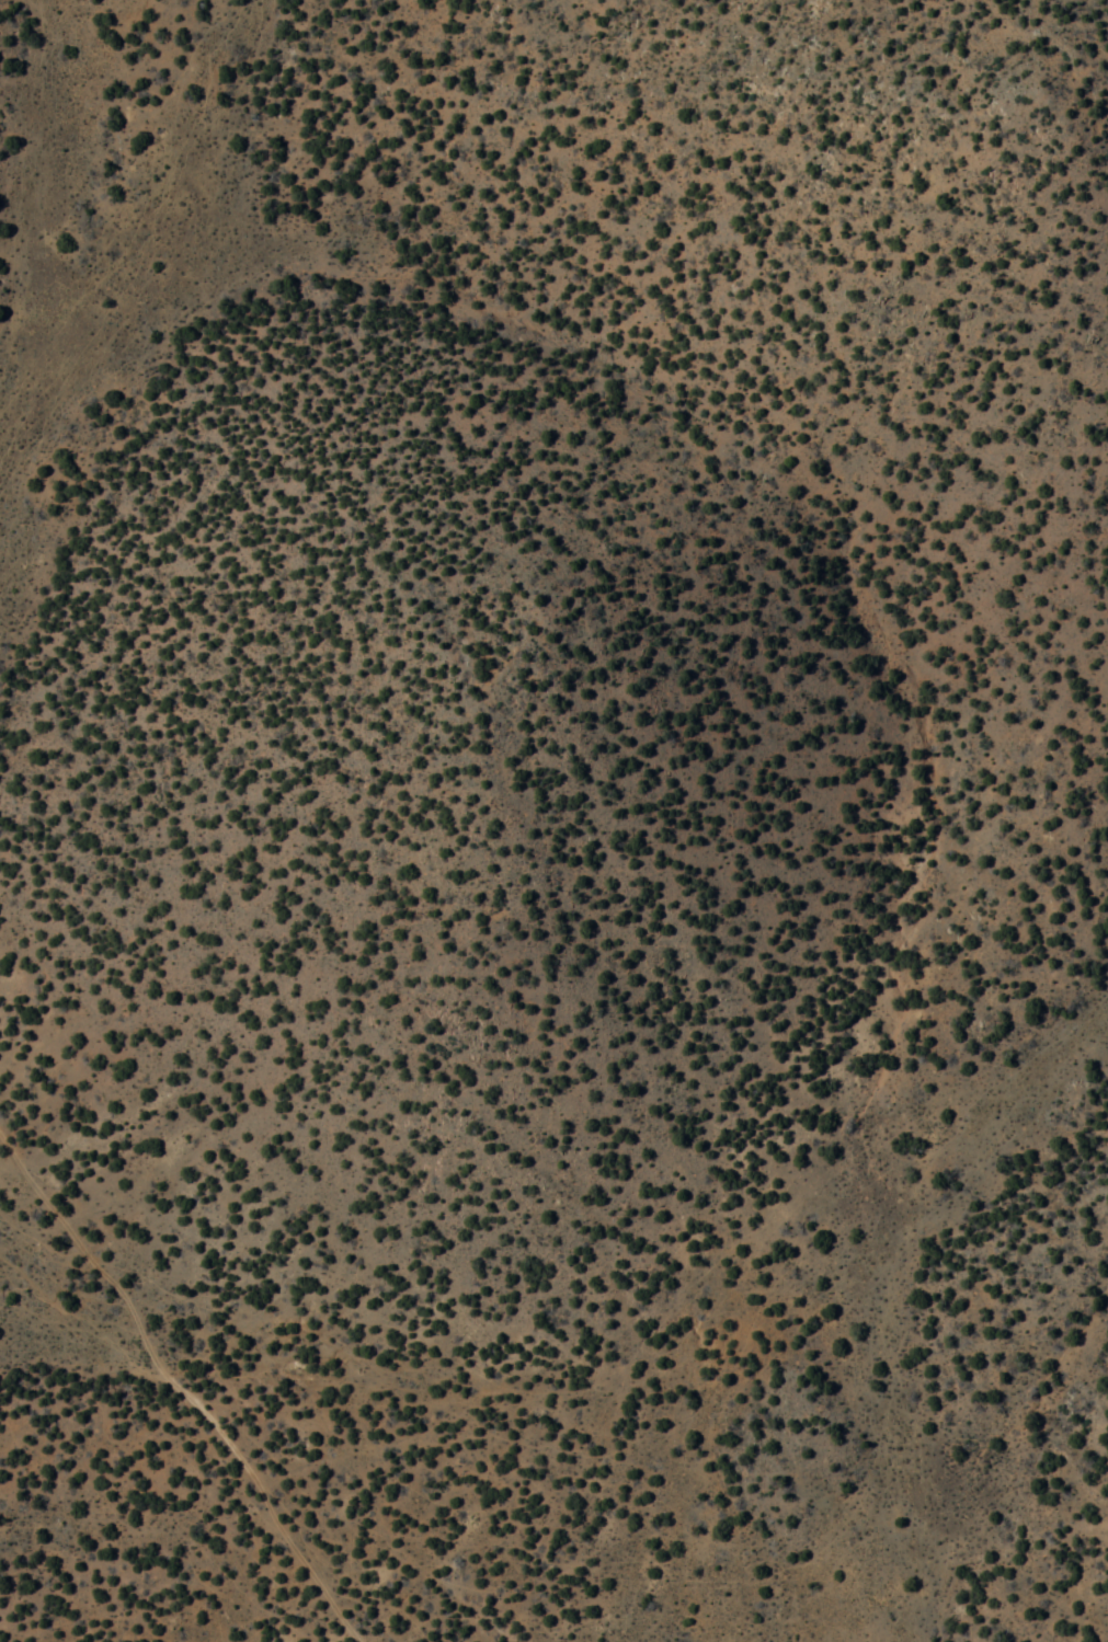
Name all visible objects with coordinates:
road: (136, 1458)

